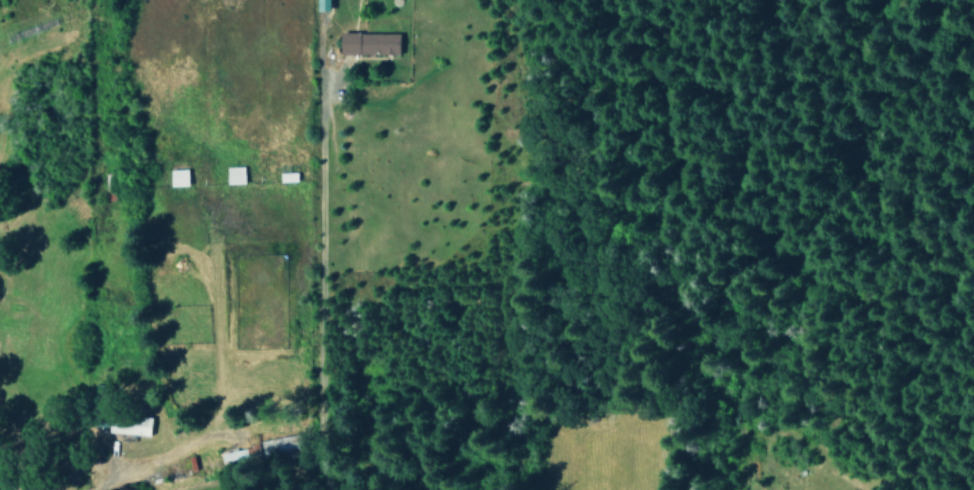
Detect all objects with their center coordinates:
building: (368, 43)
building: (233, 174)
building: (177, 177)
road: (70, 464)

